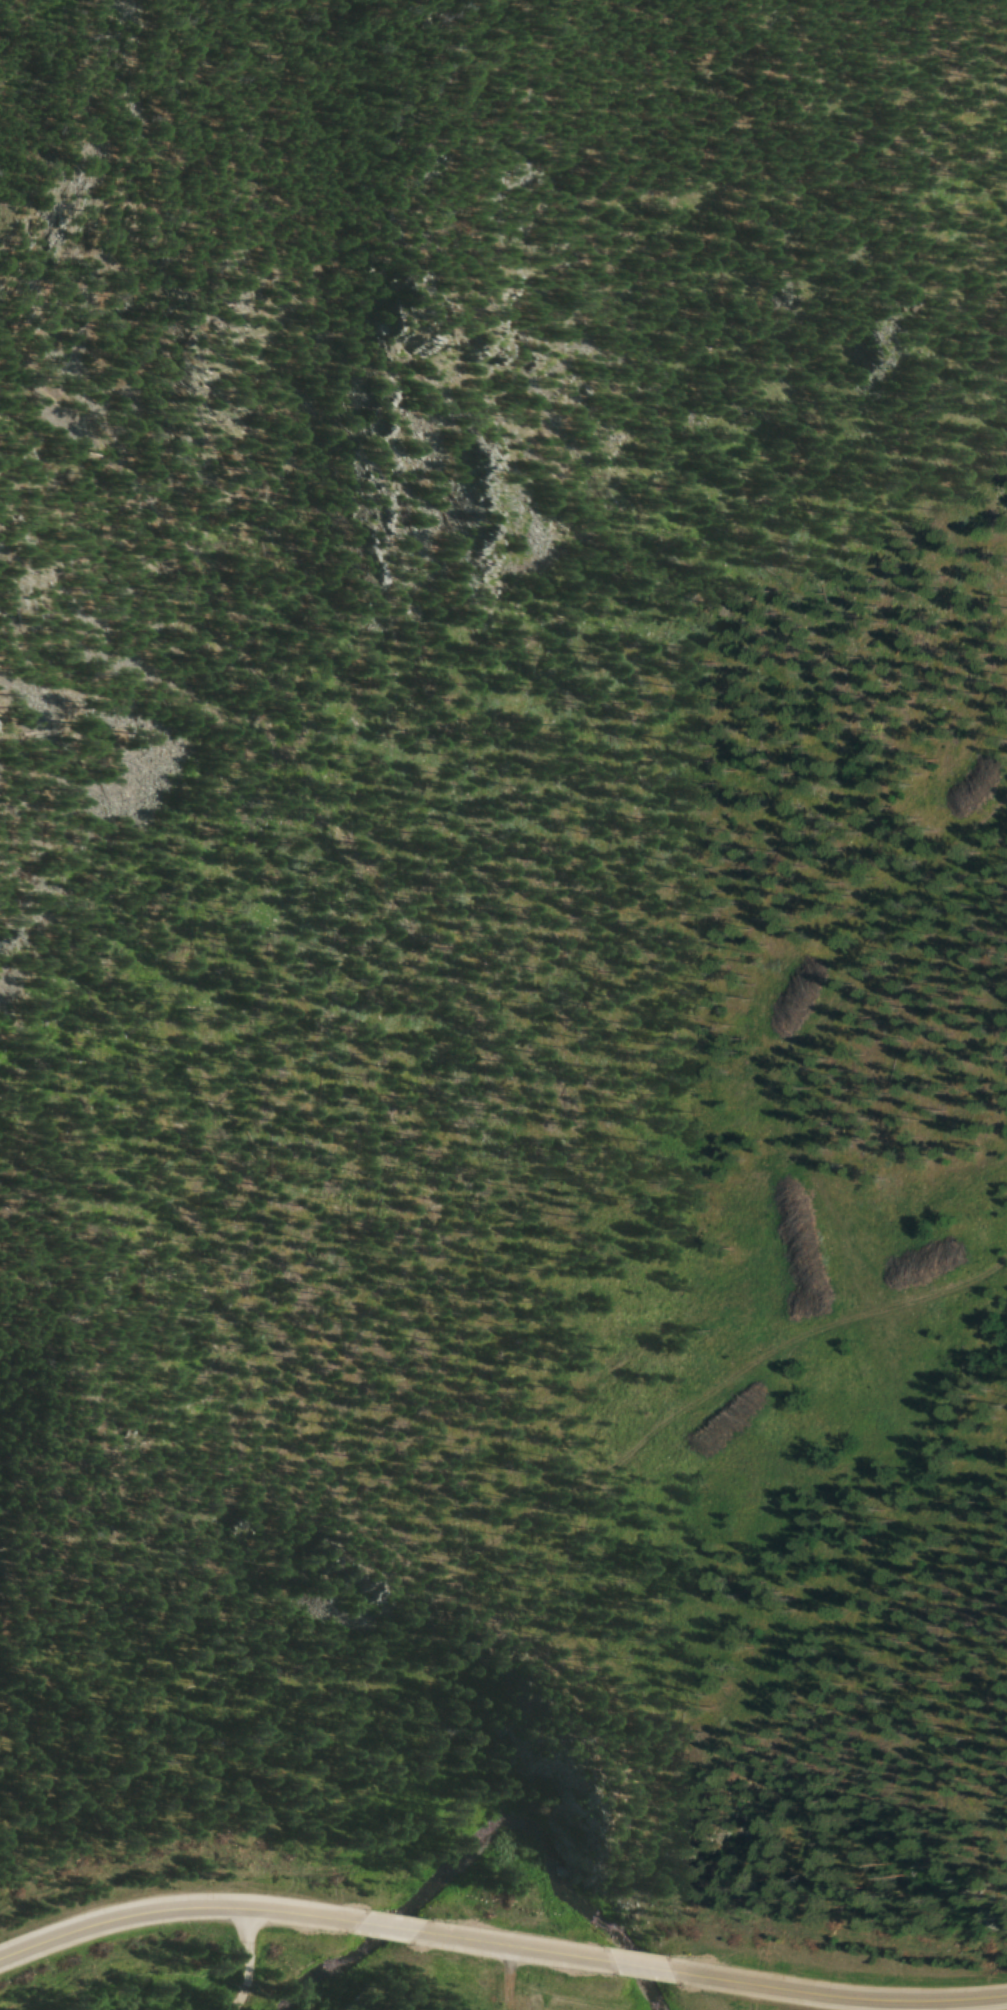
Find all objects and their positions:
road: (177, 1918)
road: (392, 1933)
road: (521, 1952)
road: (251, 1965)
road: (647, 1972)
road: (840, 2002)

